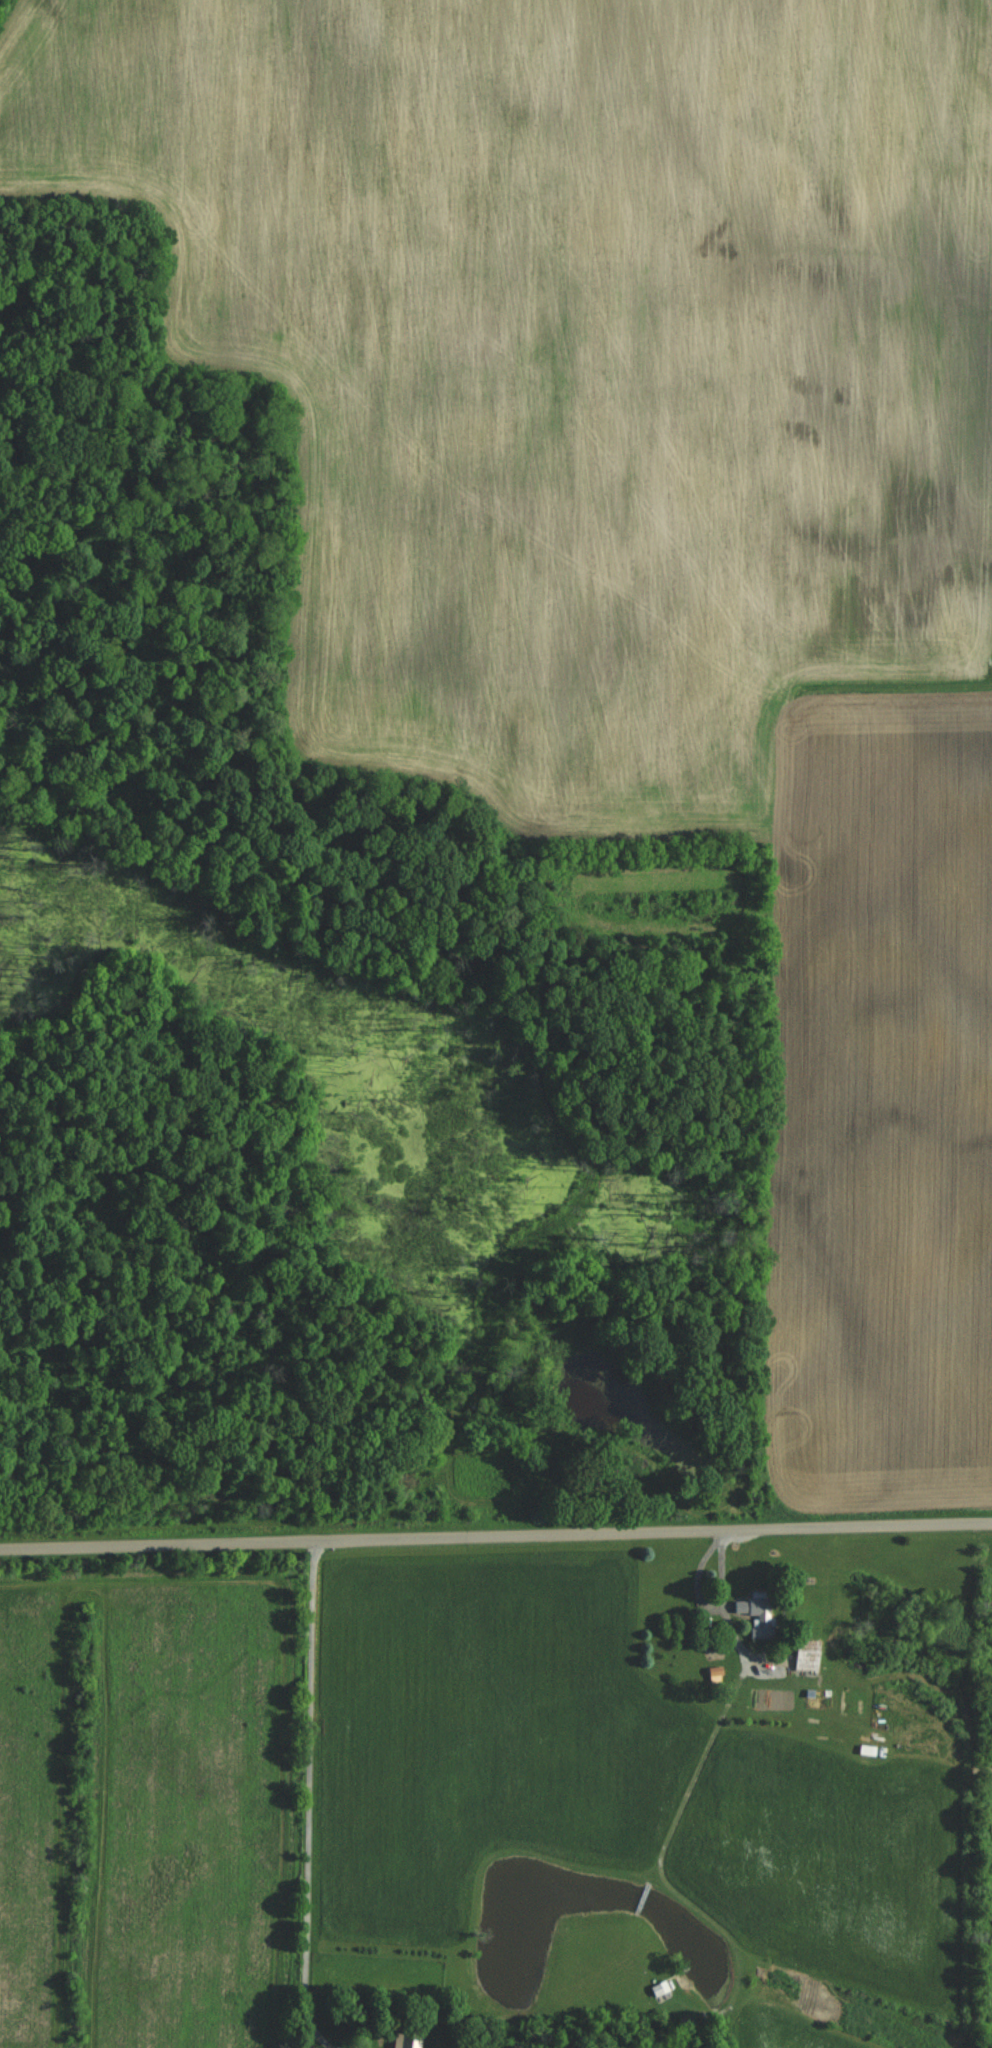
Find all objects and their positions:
road: (496, 1534)
building: (750, 1615)
building: (800, 1654)
road: (309, 1799)
building: (403, 2039)

